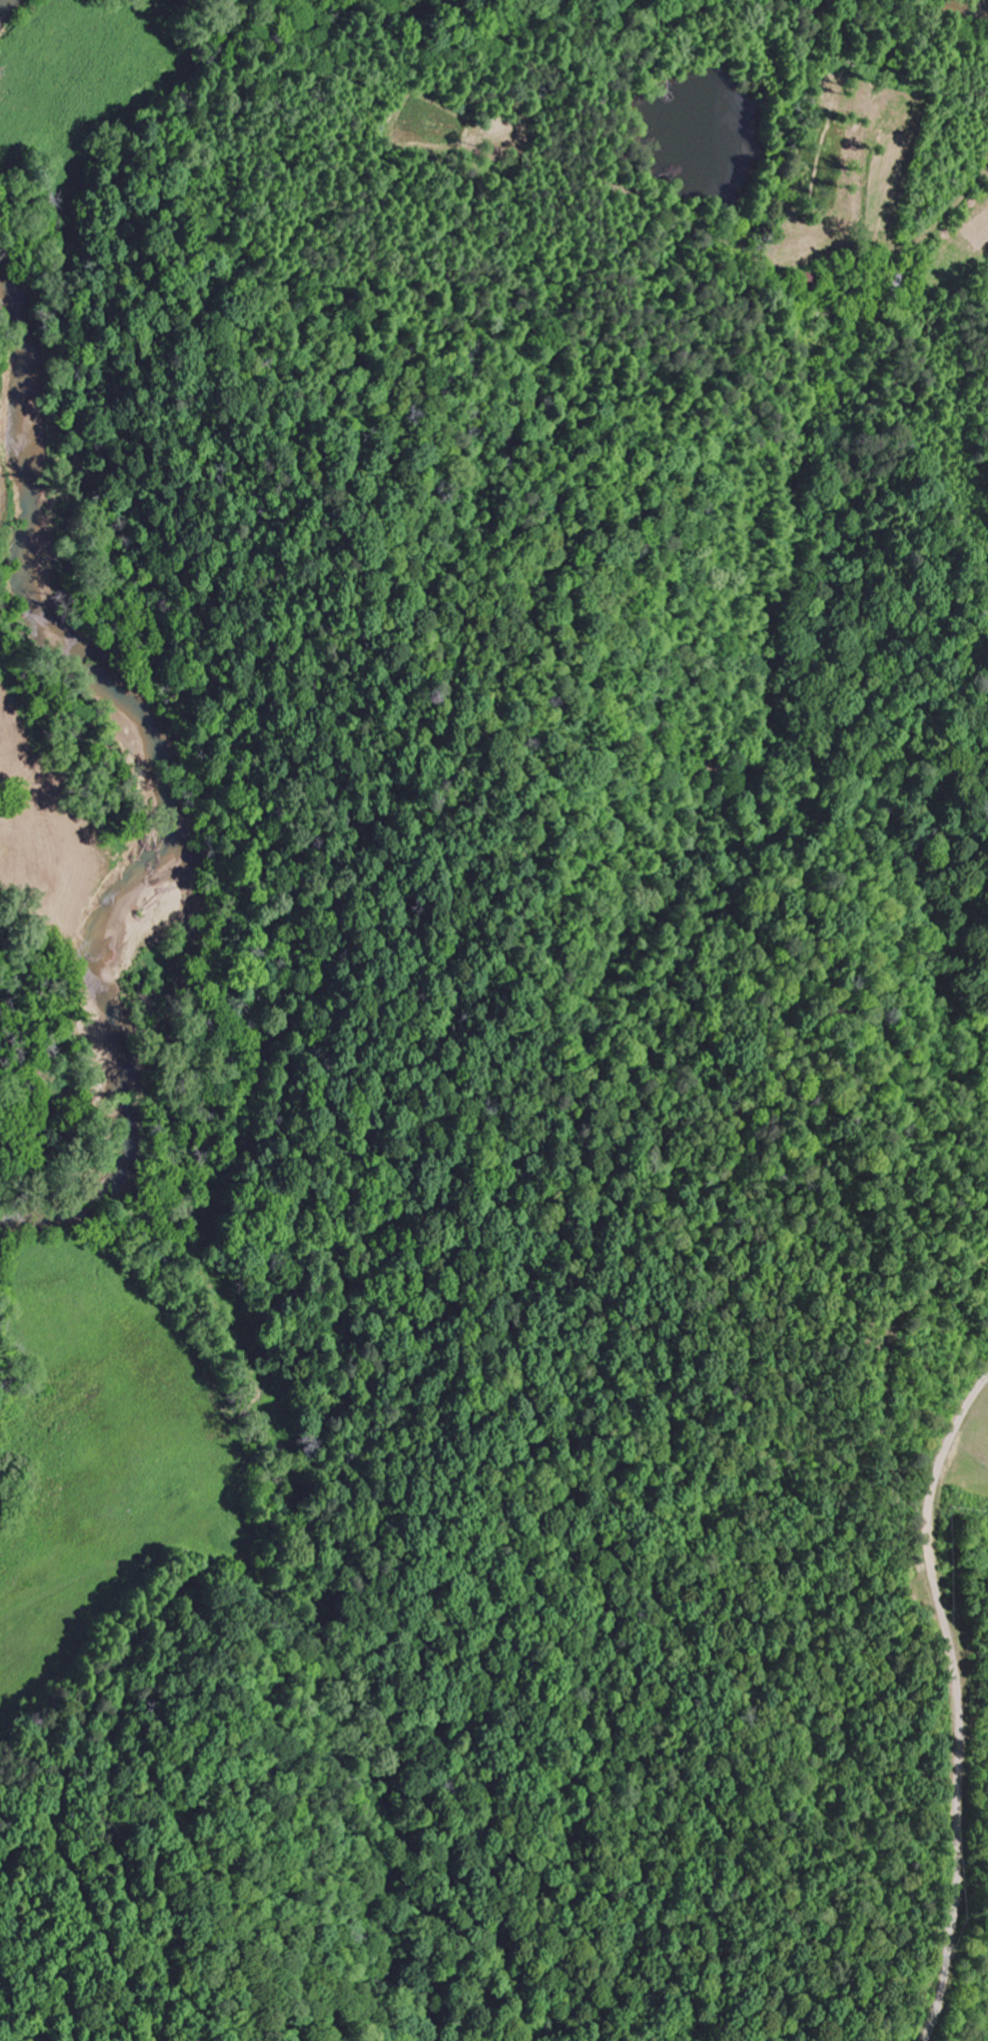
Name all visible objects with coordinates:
road: (923, 225)

